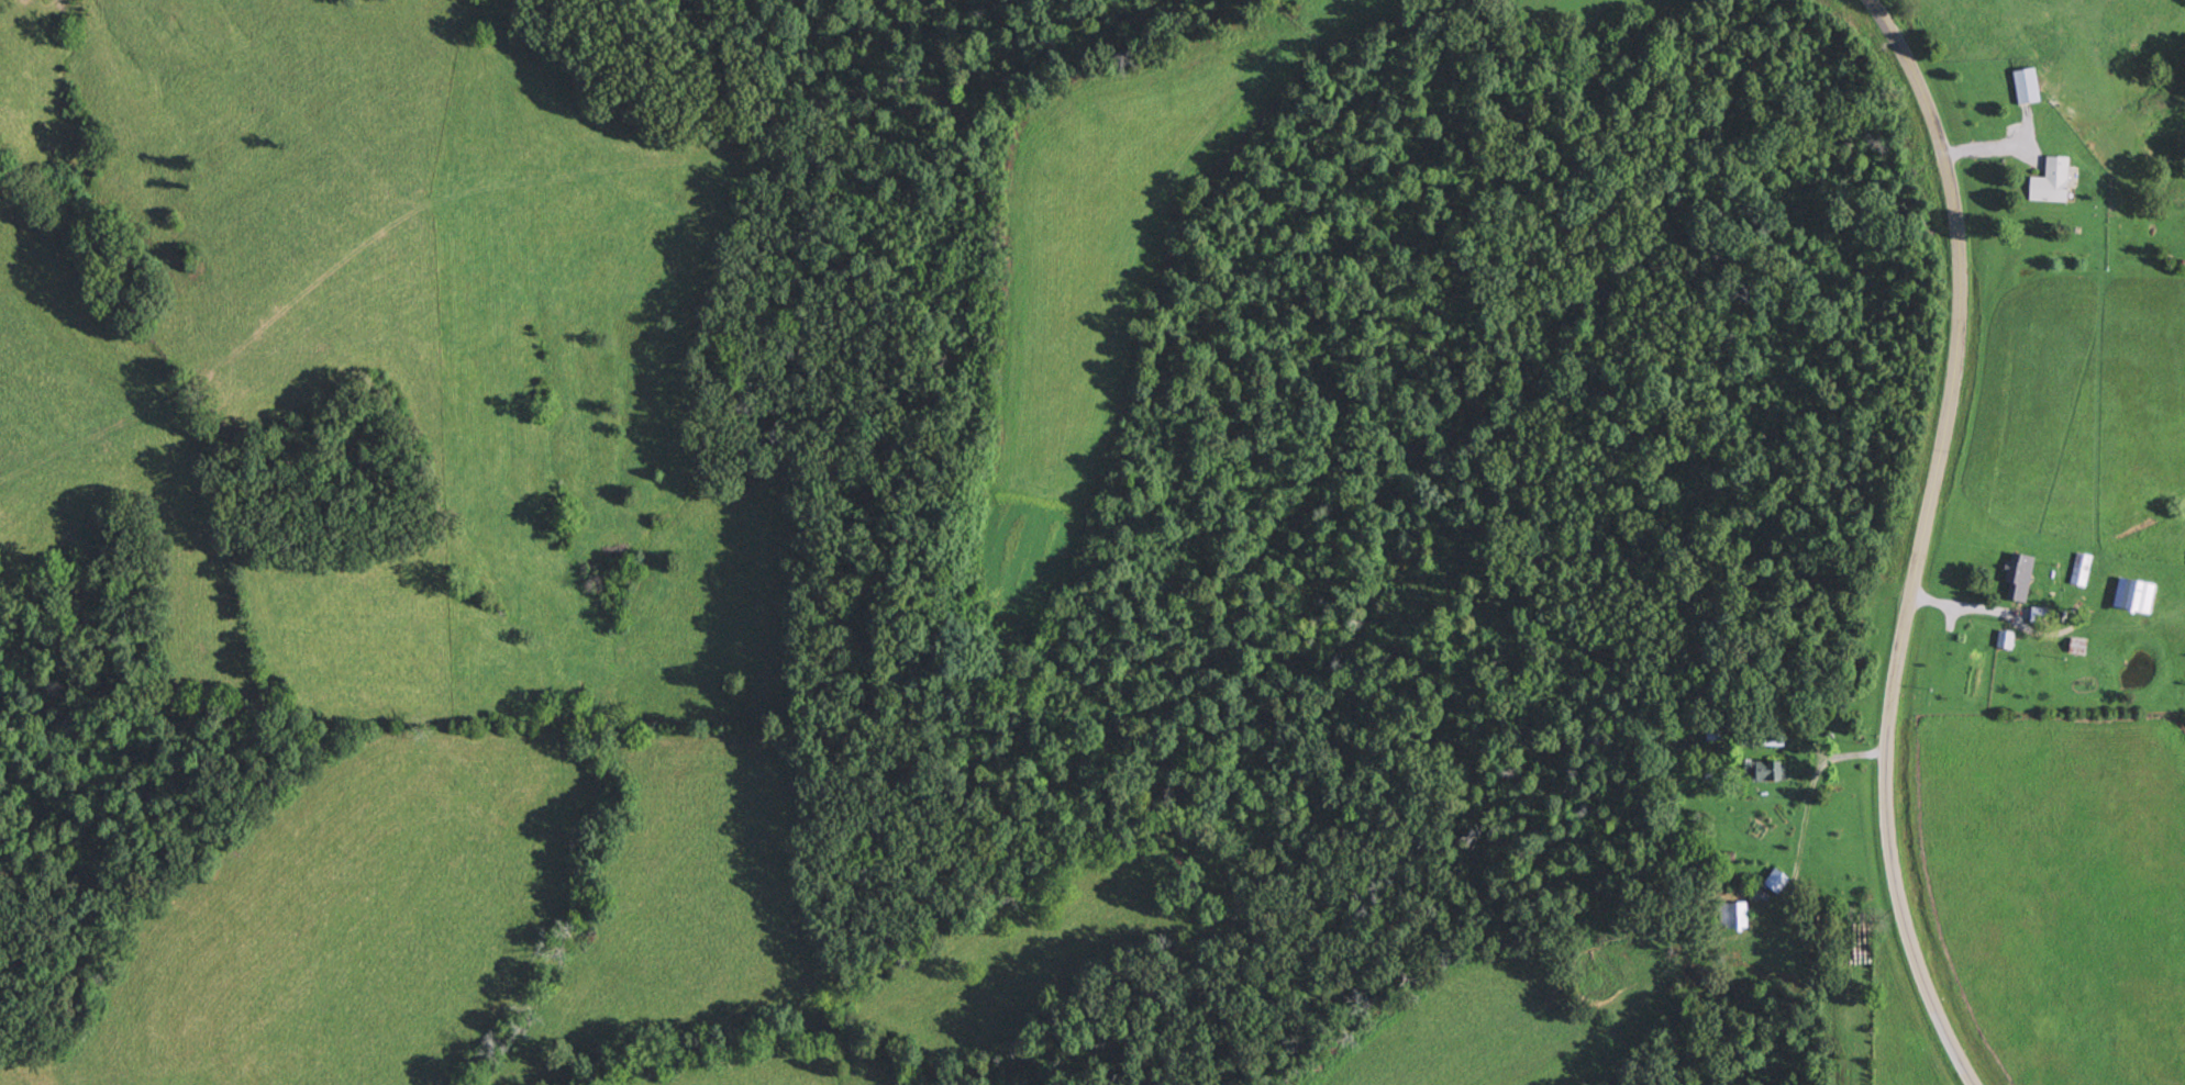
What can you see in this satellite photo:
building: (2028, 85)
building: (2052, 180)
road: (1955, 369)
building: (2082, 569)
building: (2017, 572)
building: (2134, 594)
road: (2018, 626)
building: (2006, 639)
building: (2079, 646)
building: (1767, 771)
road: (1804, 840)
building: (1778, 880)
building: (1737, 915)
road: (1903, 925)

